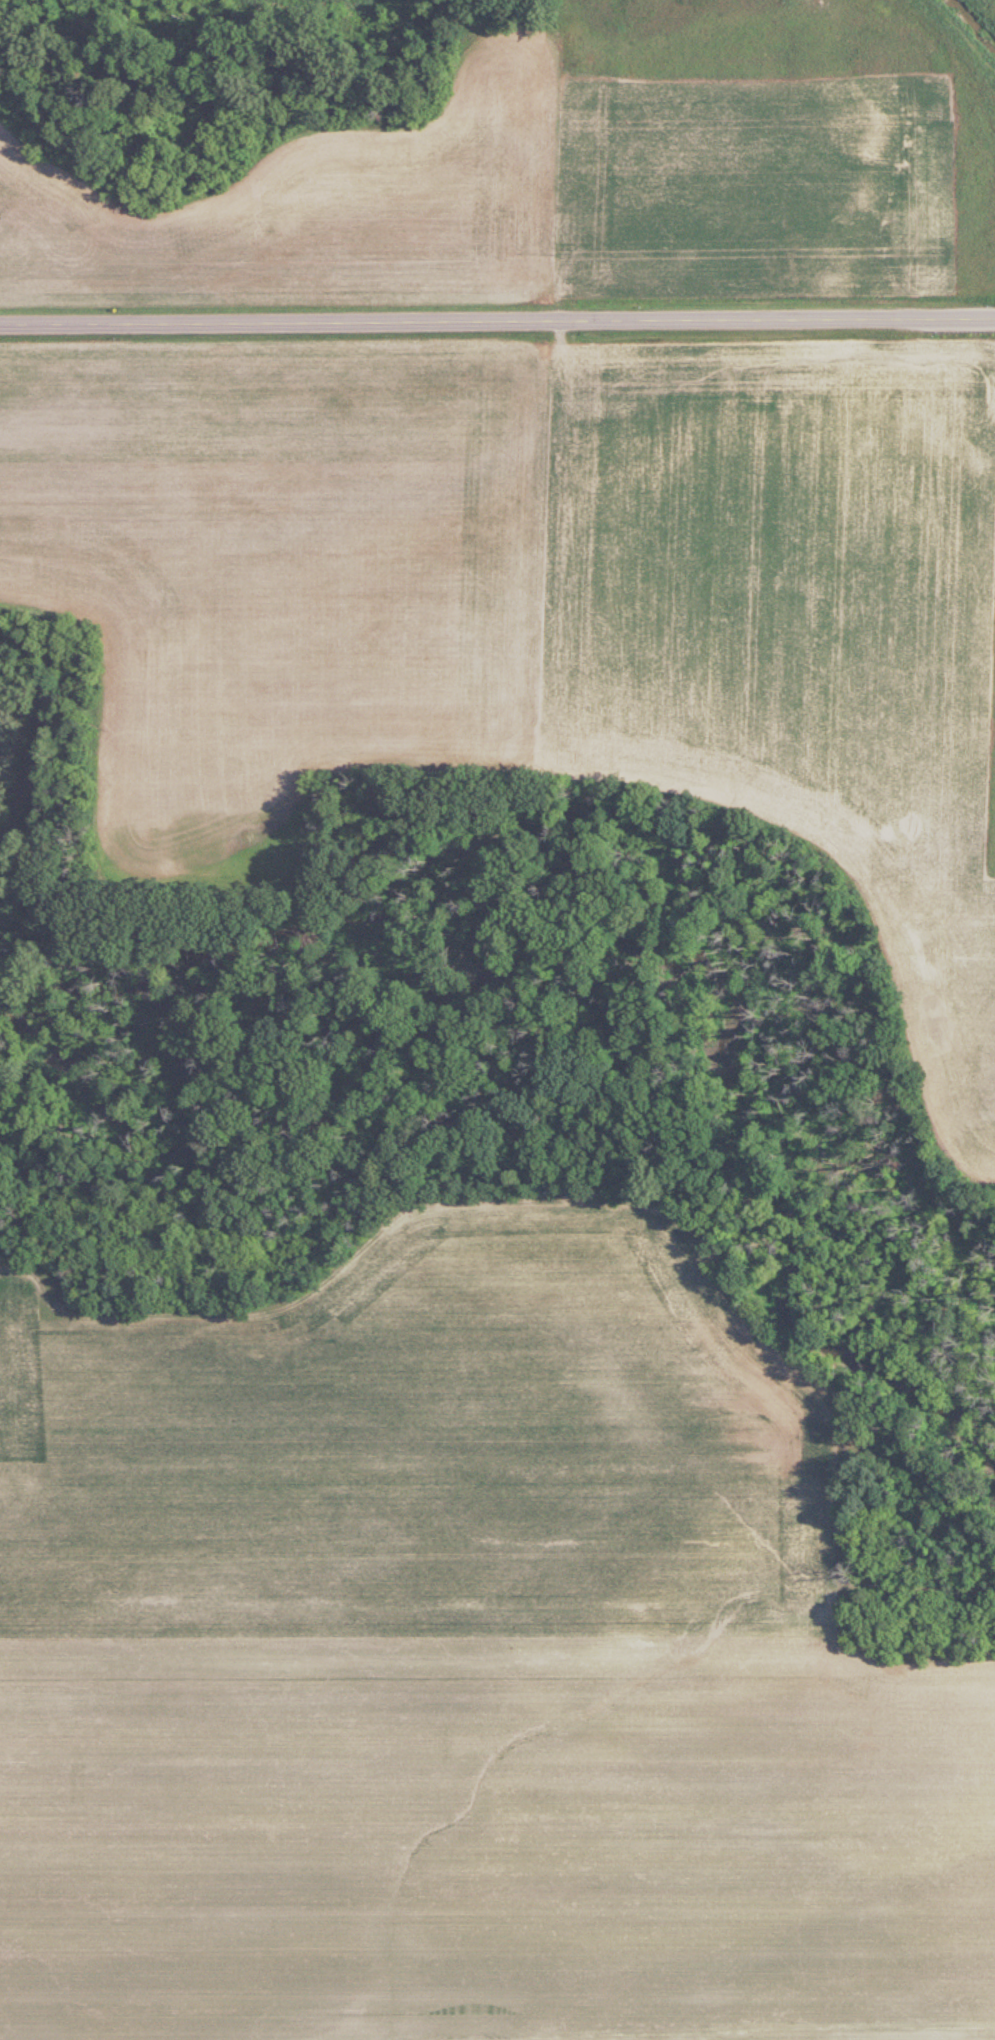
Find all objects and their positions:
road: (497, 321)
river: (517, 869)

